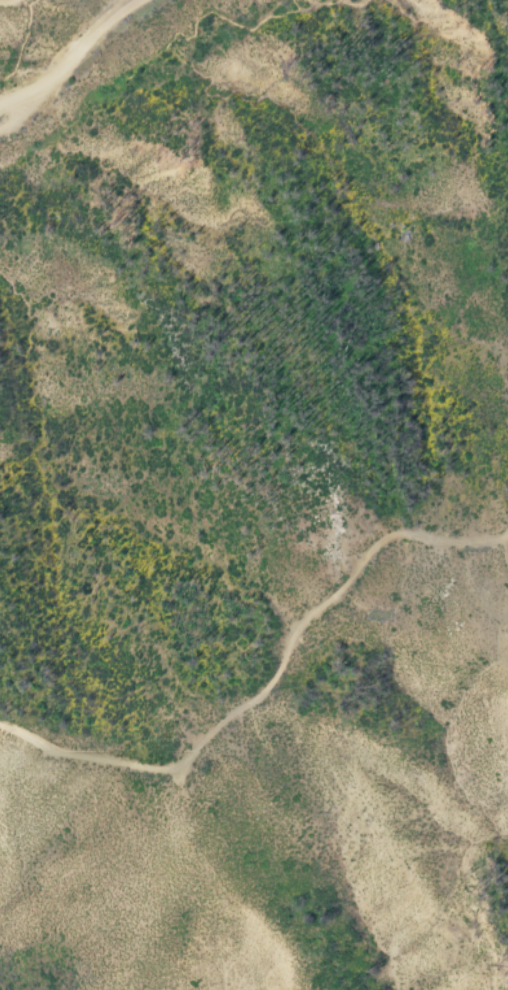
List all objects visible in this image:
road: (10, 4)
road: (118, 4)
road: (71, 57)
road: (26, 110)
road: (501, 555)

